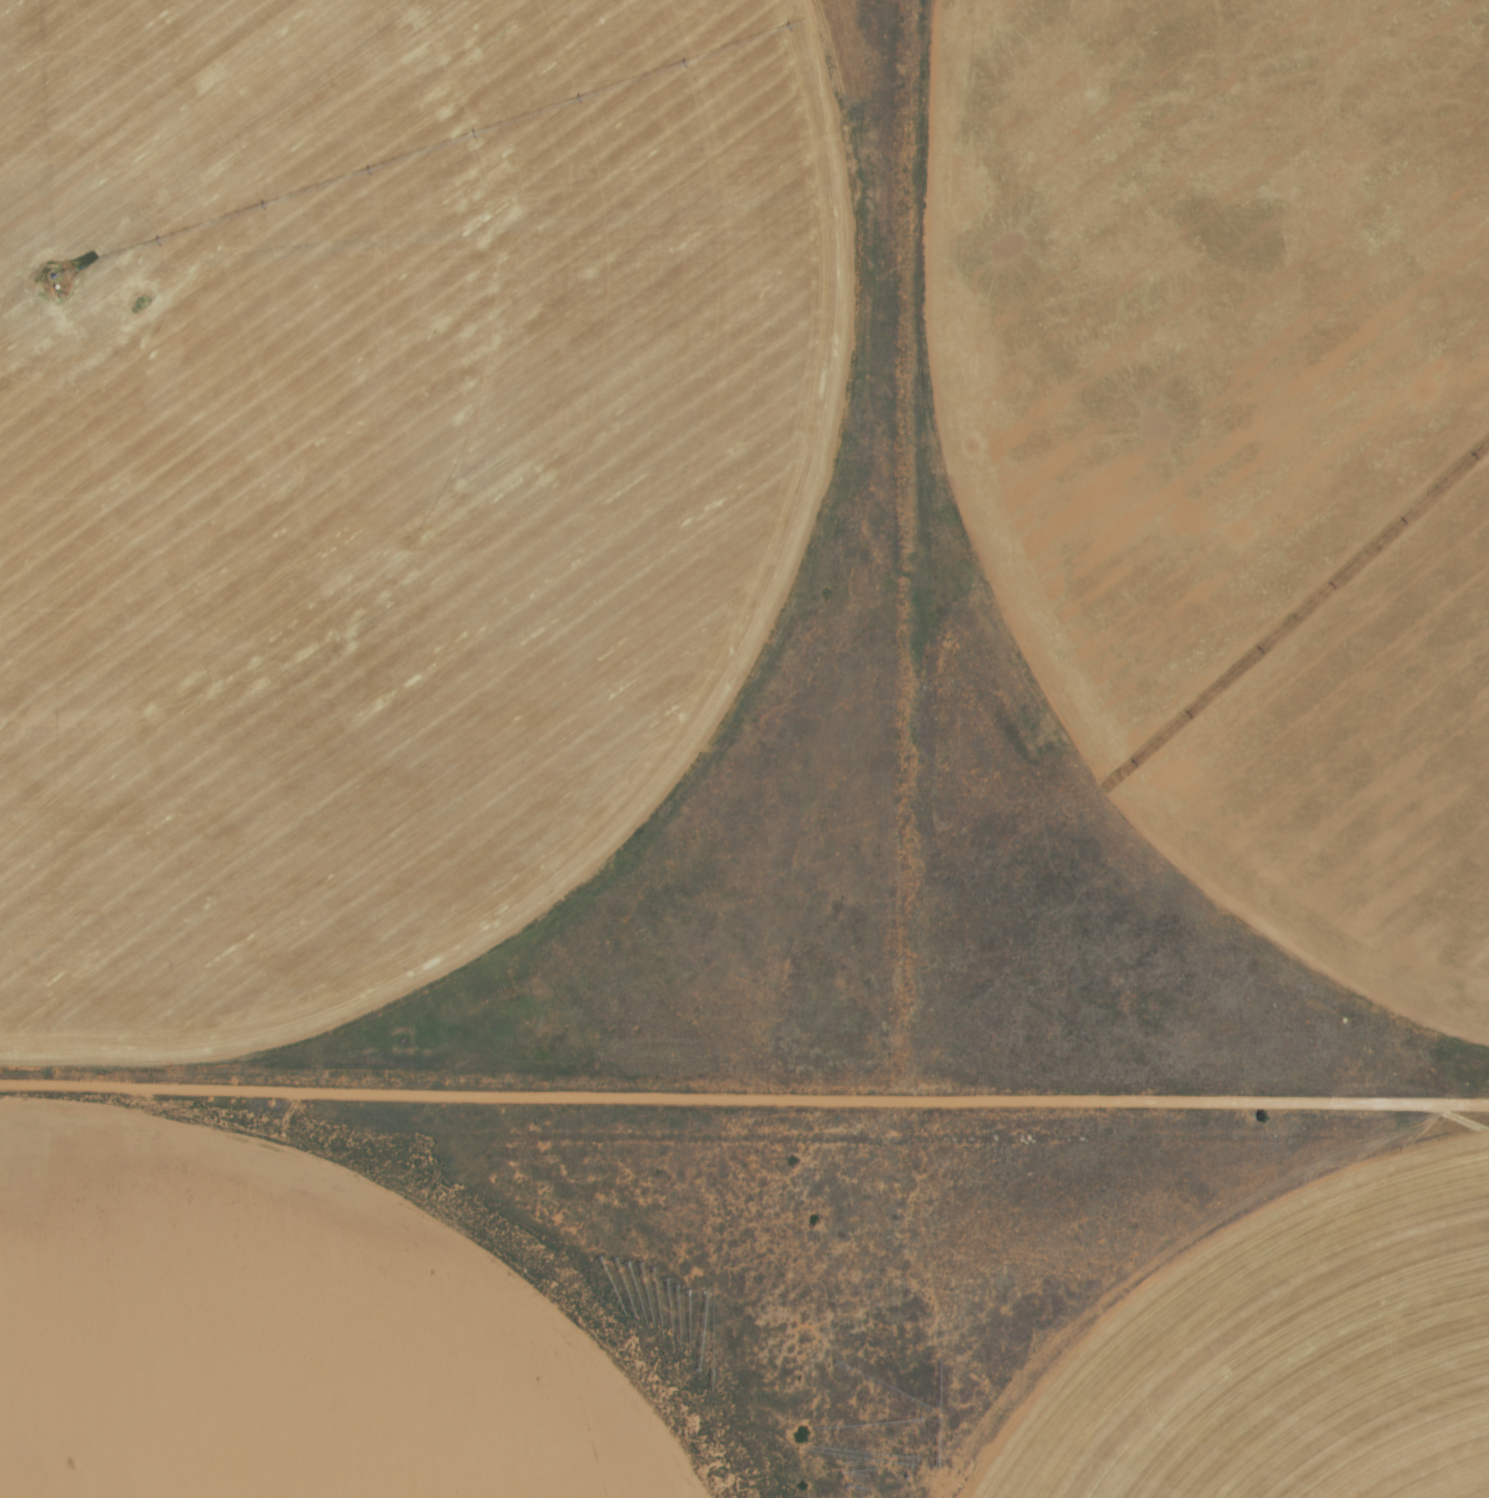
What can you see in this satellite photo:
road: (744, 1102)

